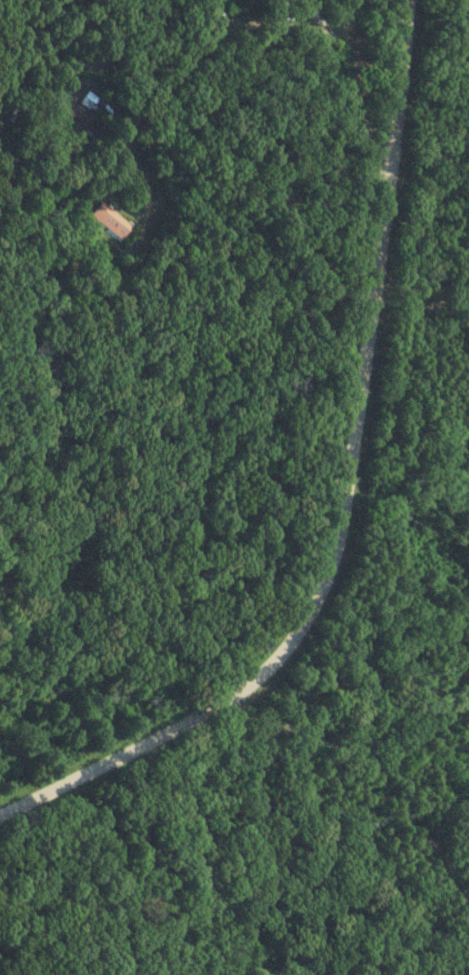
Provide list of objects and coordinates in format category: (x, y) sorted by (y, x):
building: (87, 102)
road: (219, 139)
building: (113, 221)
road: (349, 493)
road: (384, 763)

